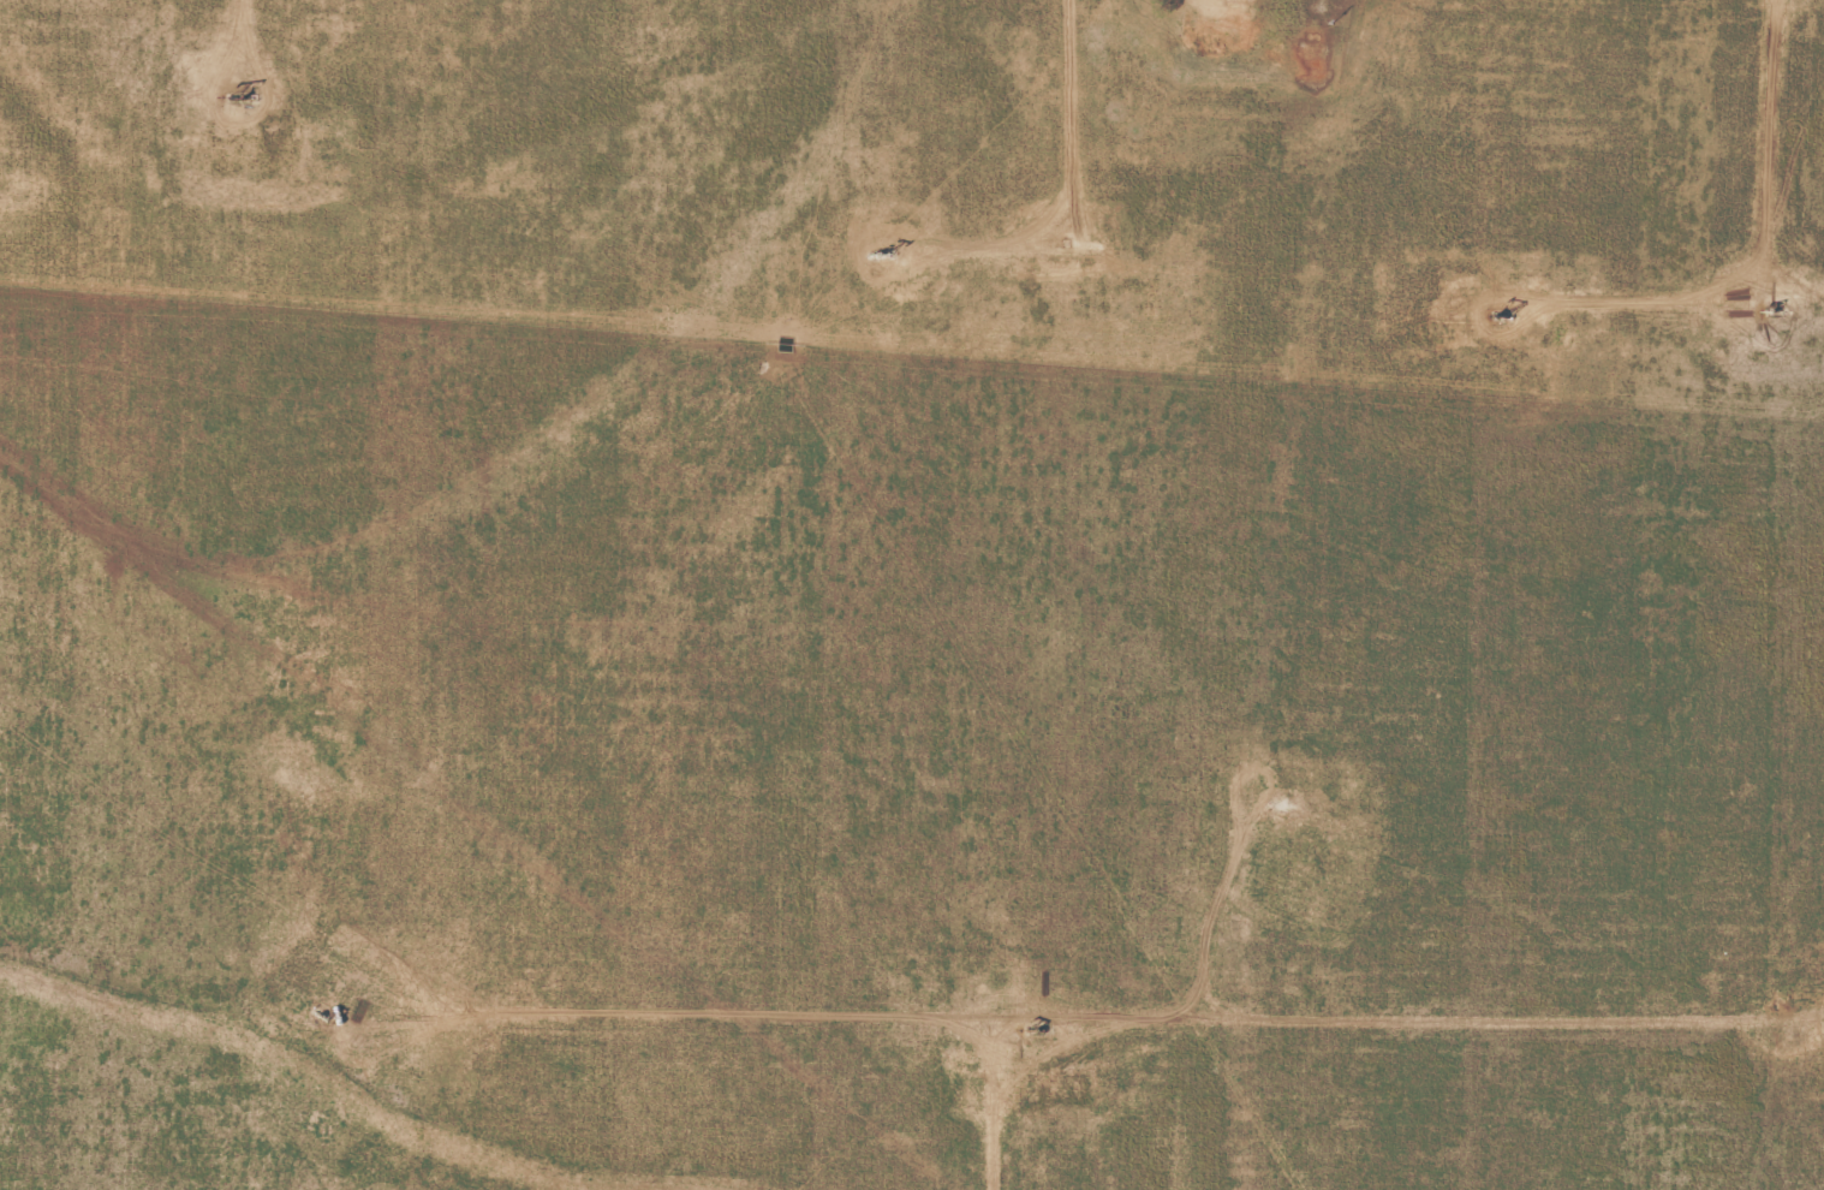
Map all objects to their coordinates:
road: (603, 382)

